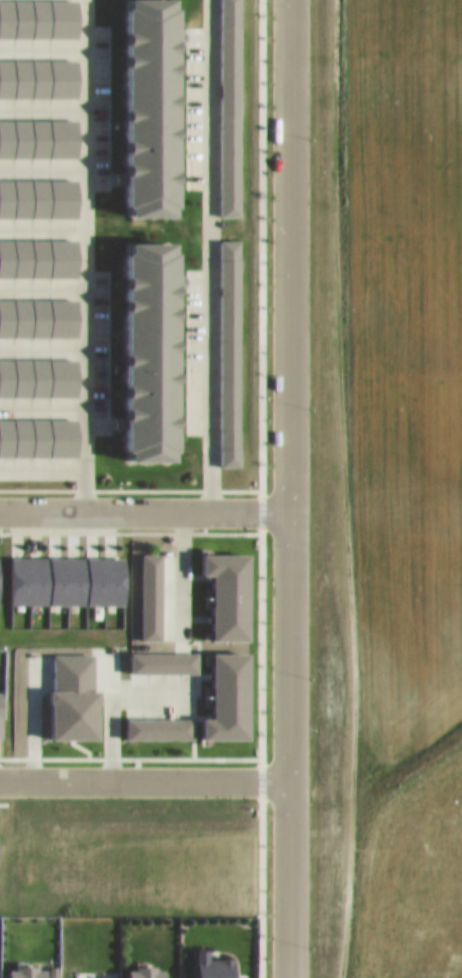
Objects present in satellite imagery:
road: (83, 254)
road: (210, 254)
road: (289, 489)
road: (144, 509)
road: (180, 572)
road: (109, 690)
road: (144, 778)

